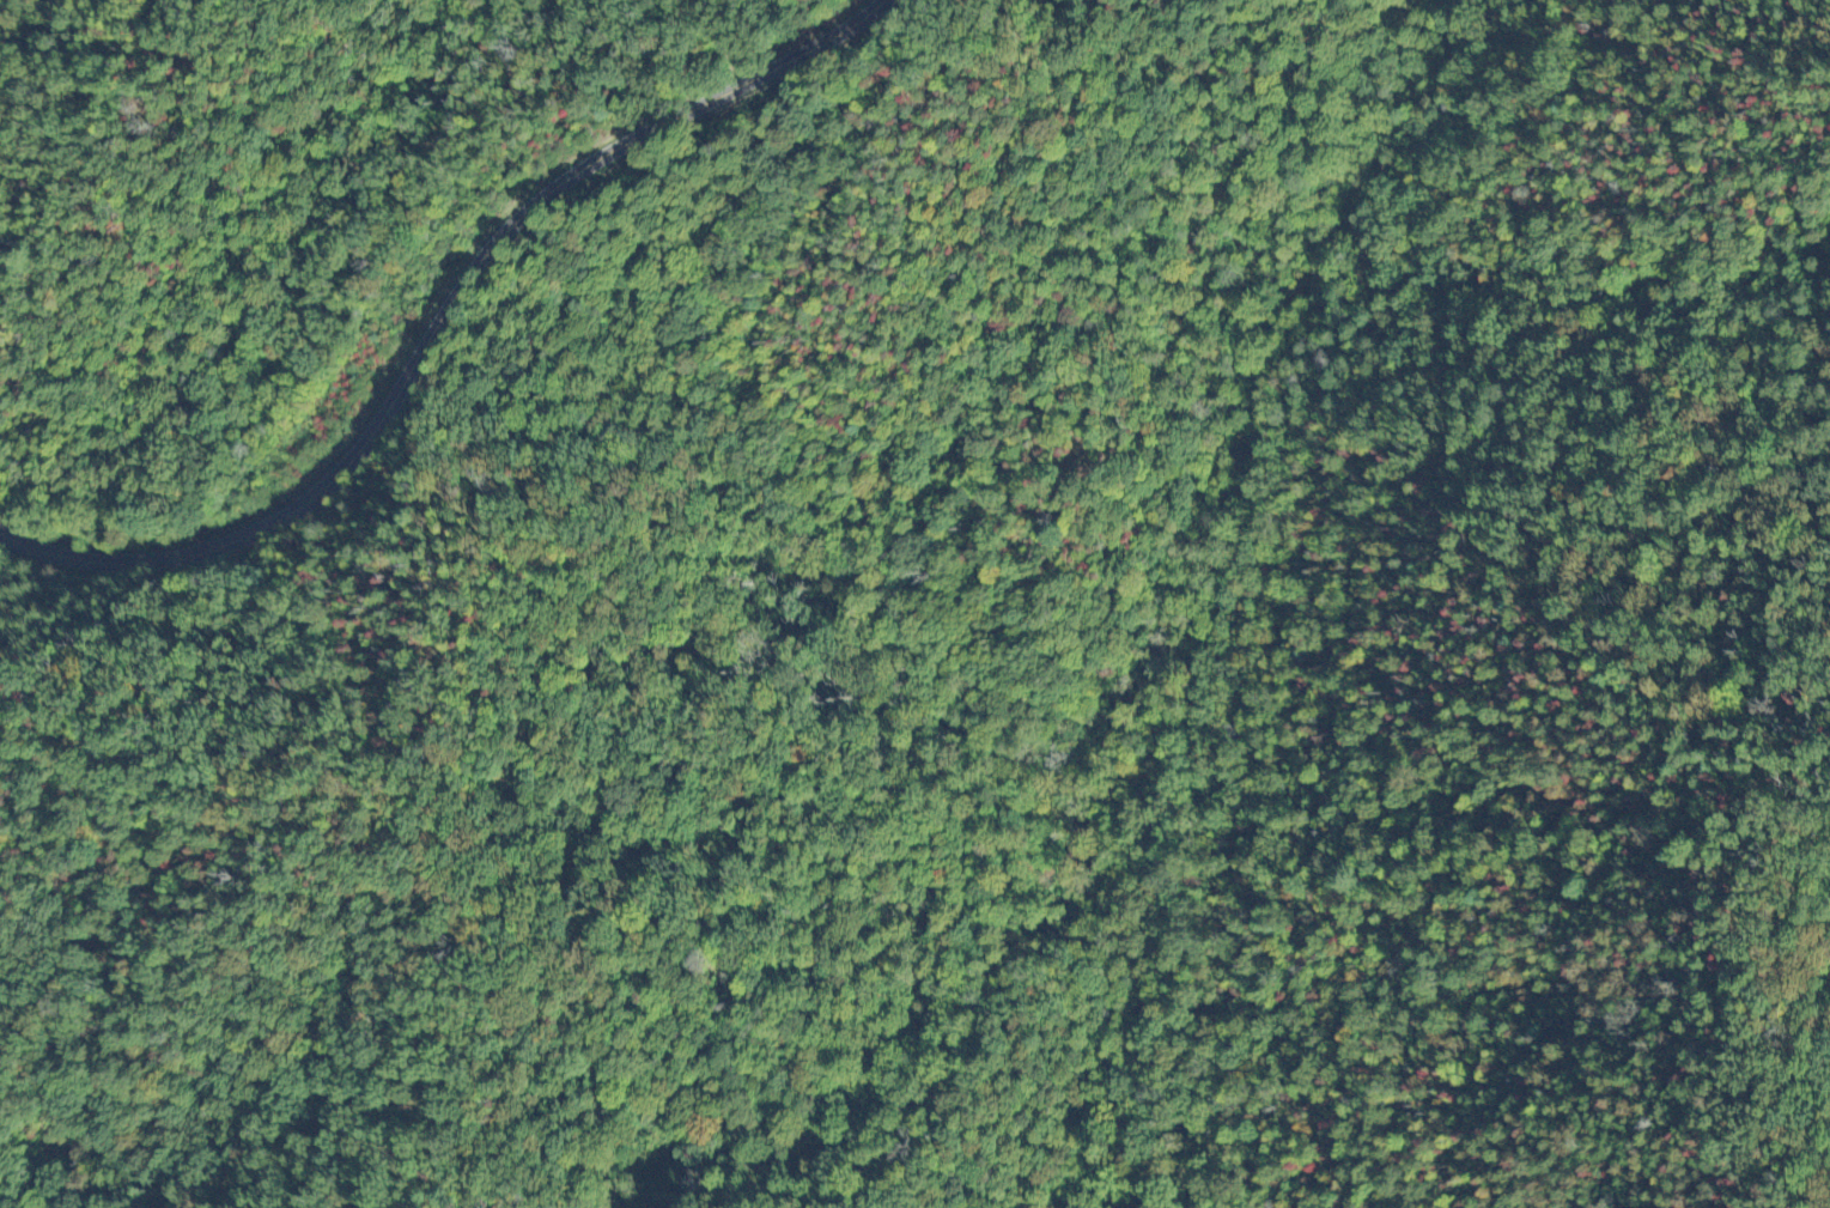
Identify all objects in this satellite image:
road: (1102, 204)
road: (439, 317)
park: (1070, 471)

